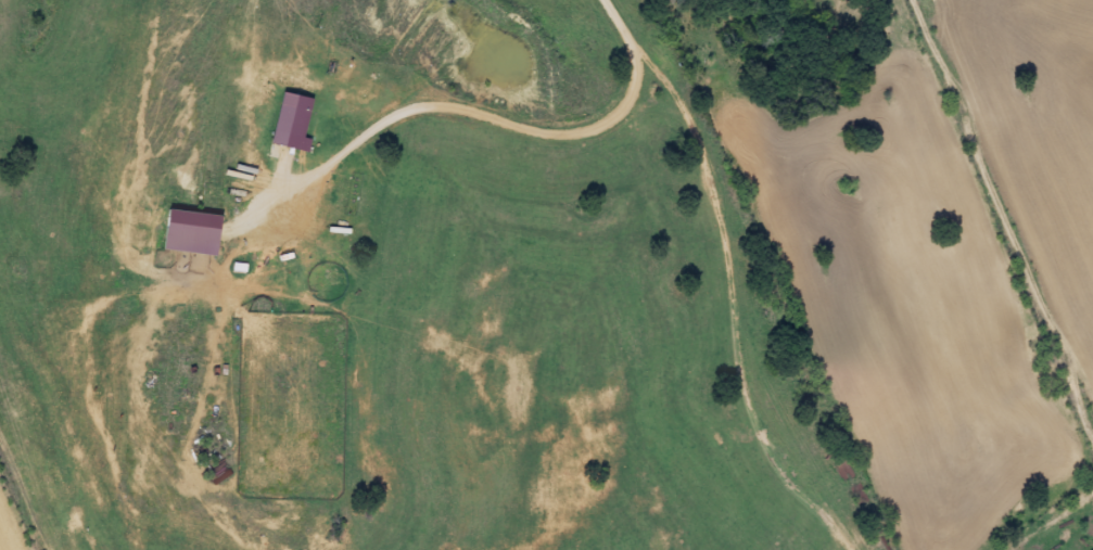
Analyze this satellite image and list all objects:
building: (288, 123)
road: (1000, 192)
building: (237, 268)
road: (63, 420)

